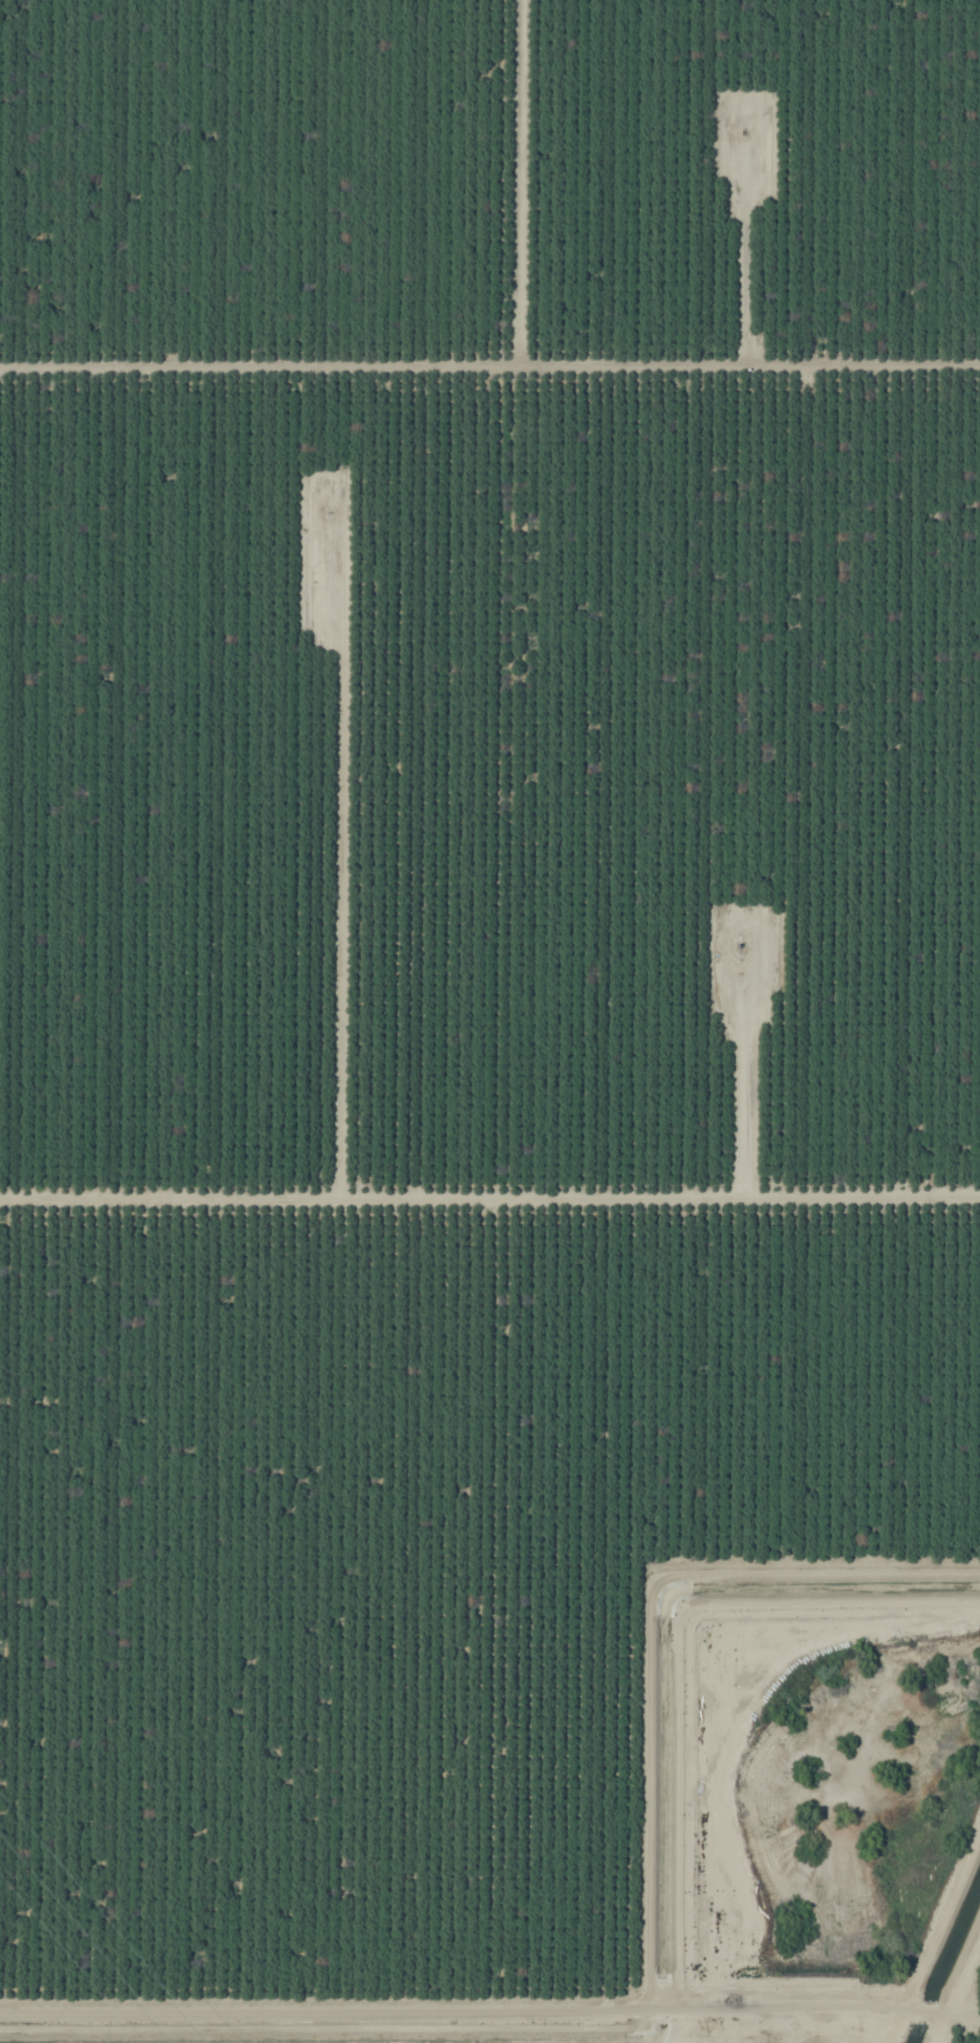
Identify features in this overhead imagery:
road: (490, 2024)

